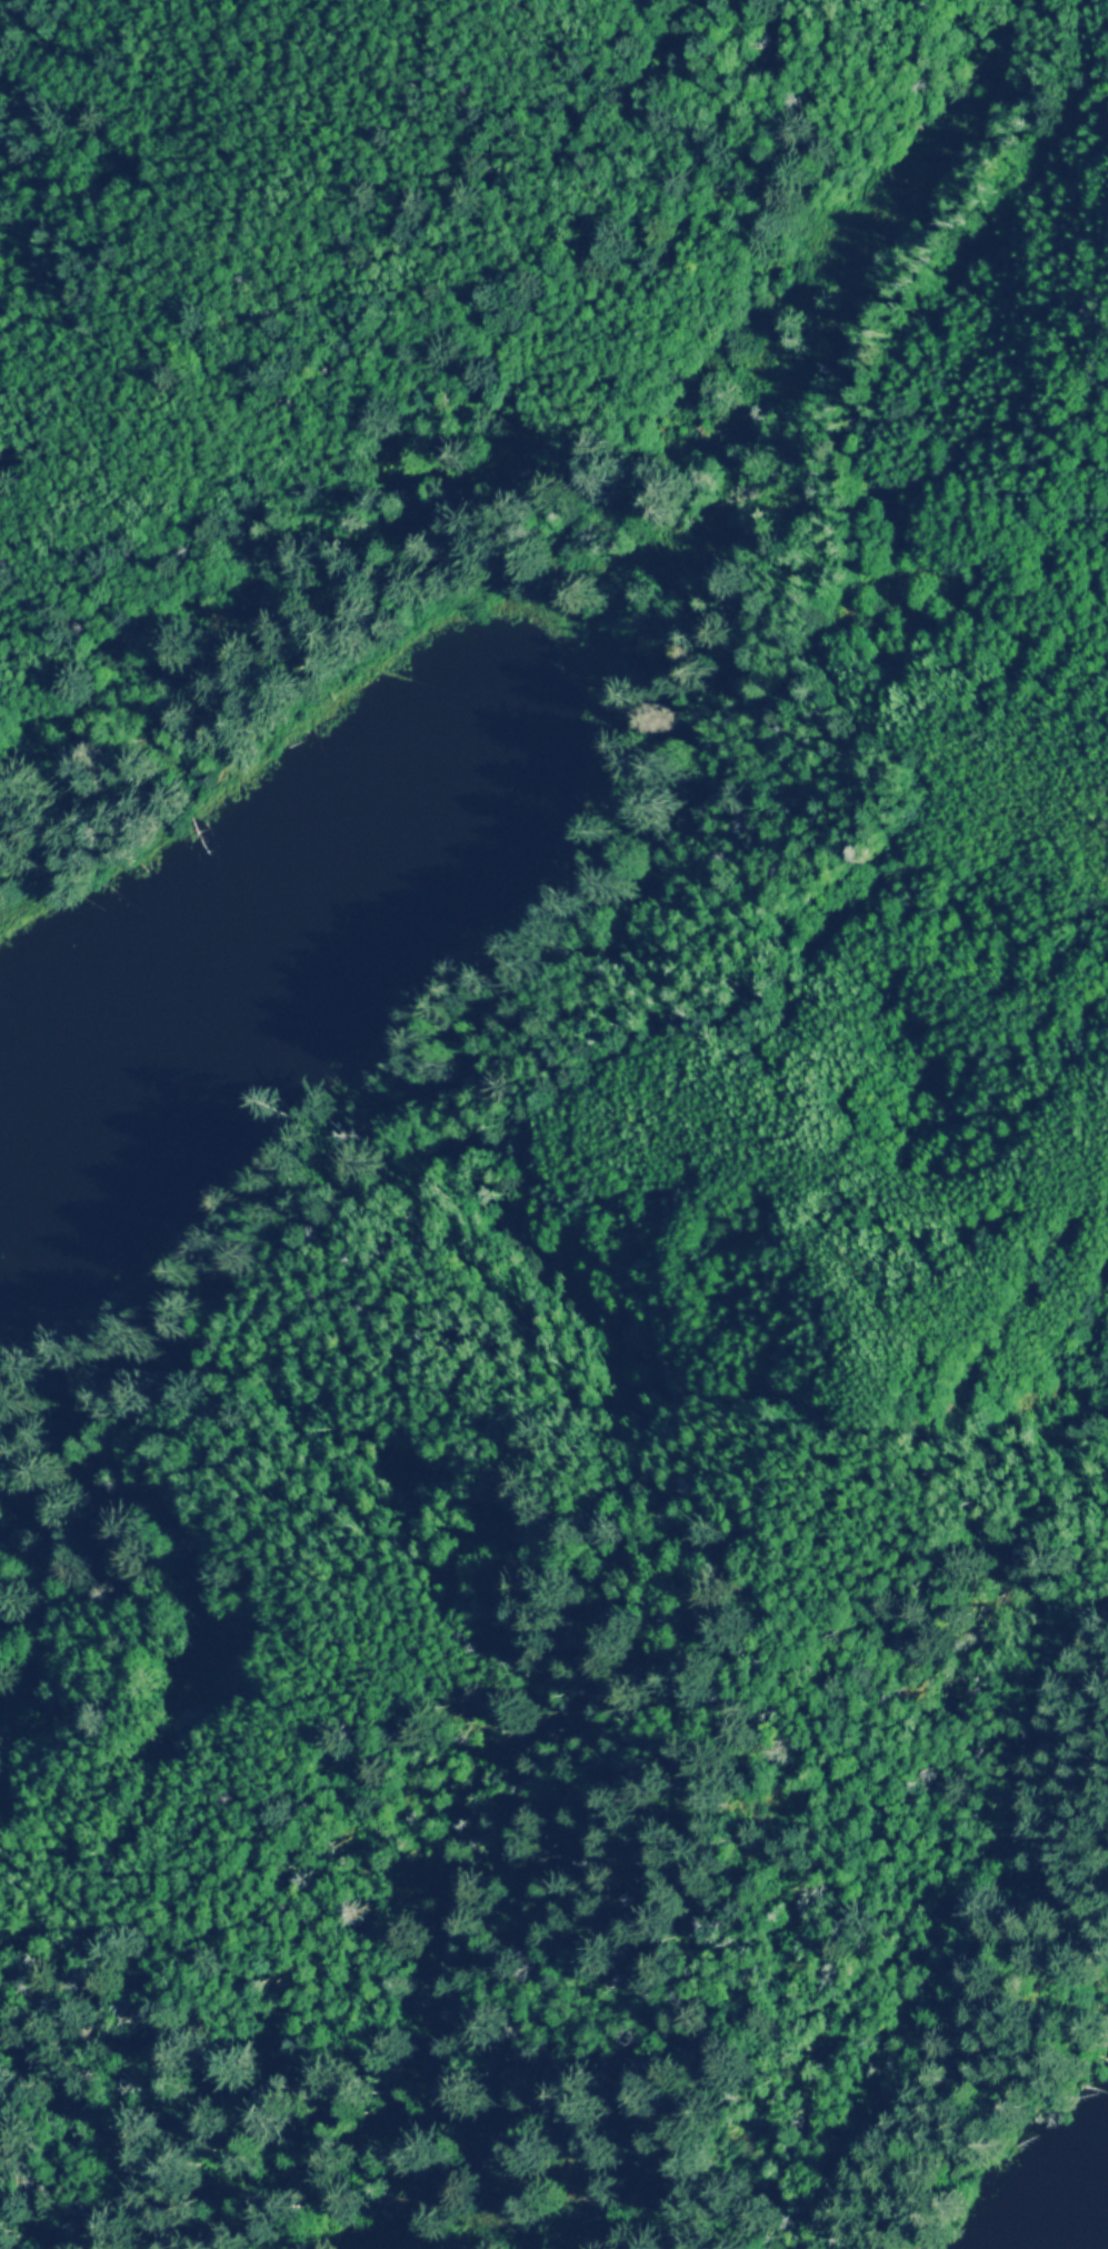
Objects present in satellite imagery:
road: (1005, 2085)

